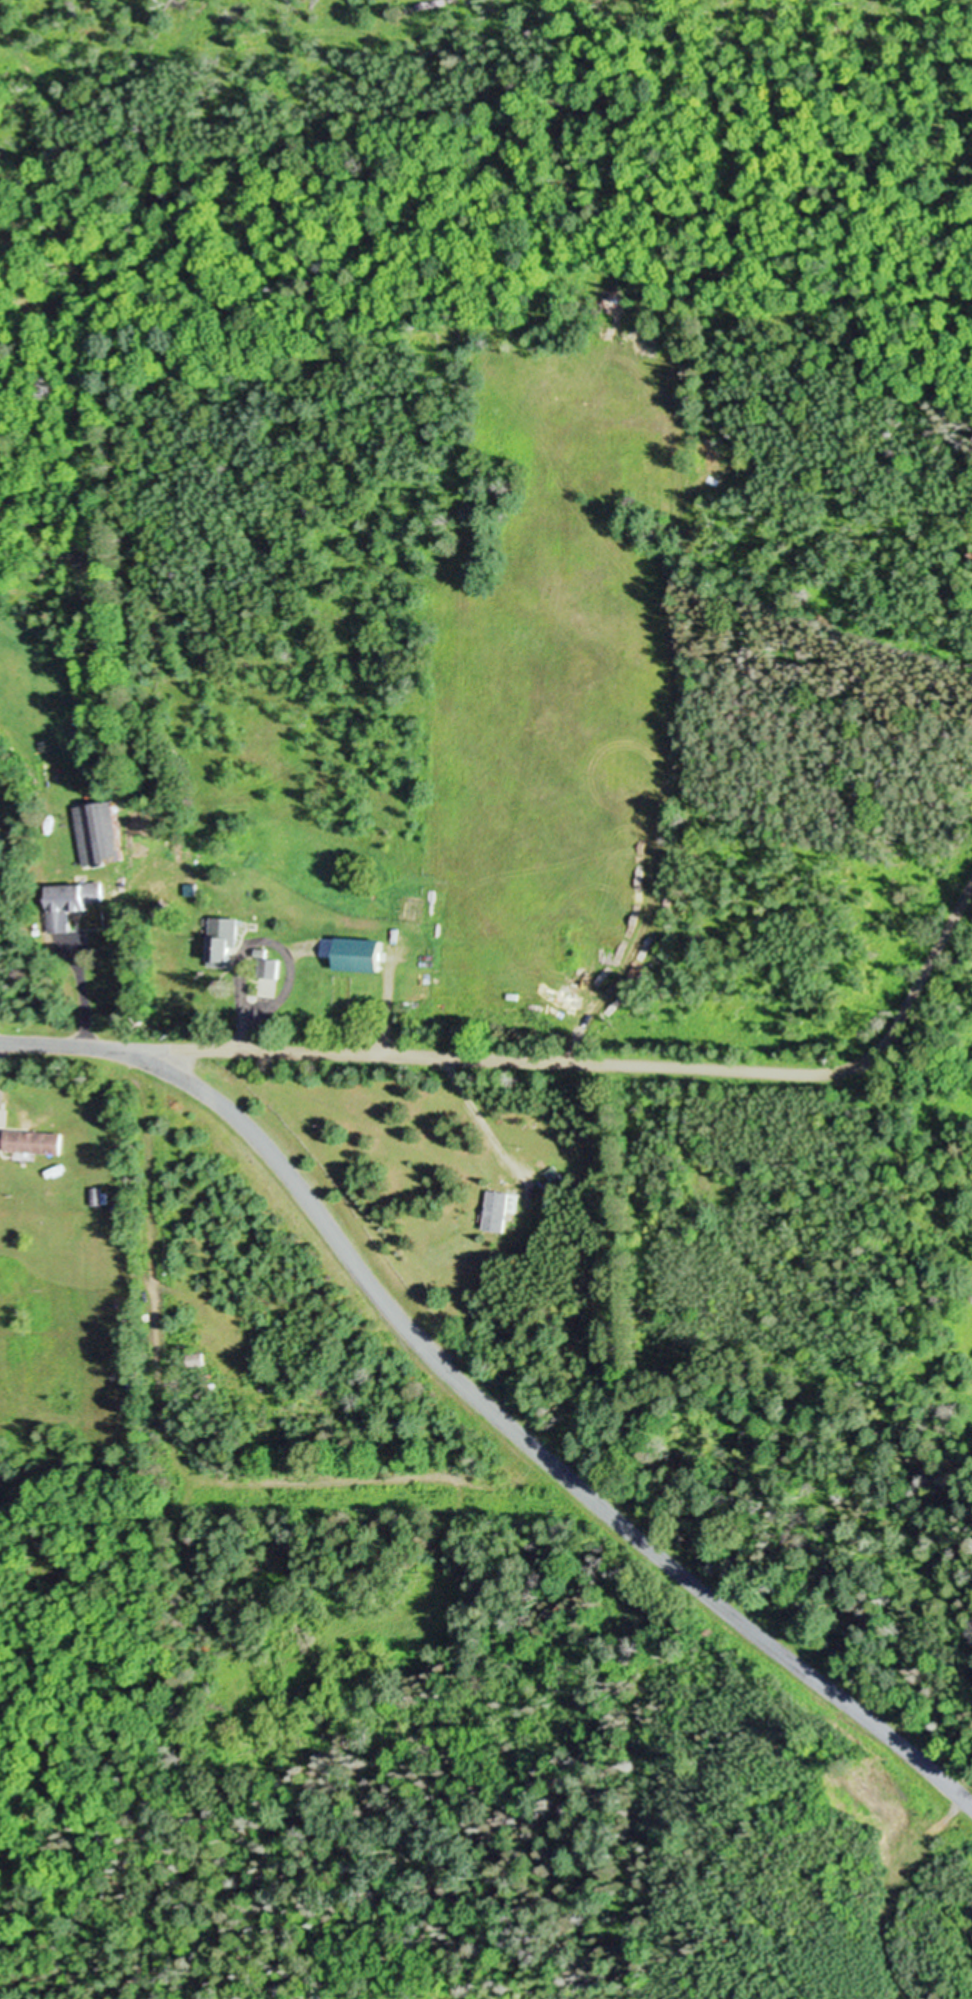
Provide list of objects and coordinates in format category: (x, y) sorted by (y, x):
road: (257, 937)
road: (83, 995)
road: (383, 1010)
road: (609, 1063)
road: (470, 1107)
road: (161, 1391)
road: (483, 1401)
road: (926, 1833)

